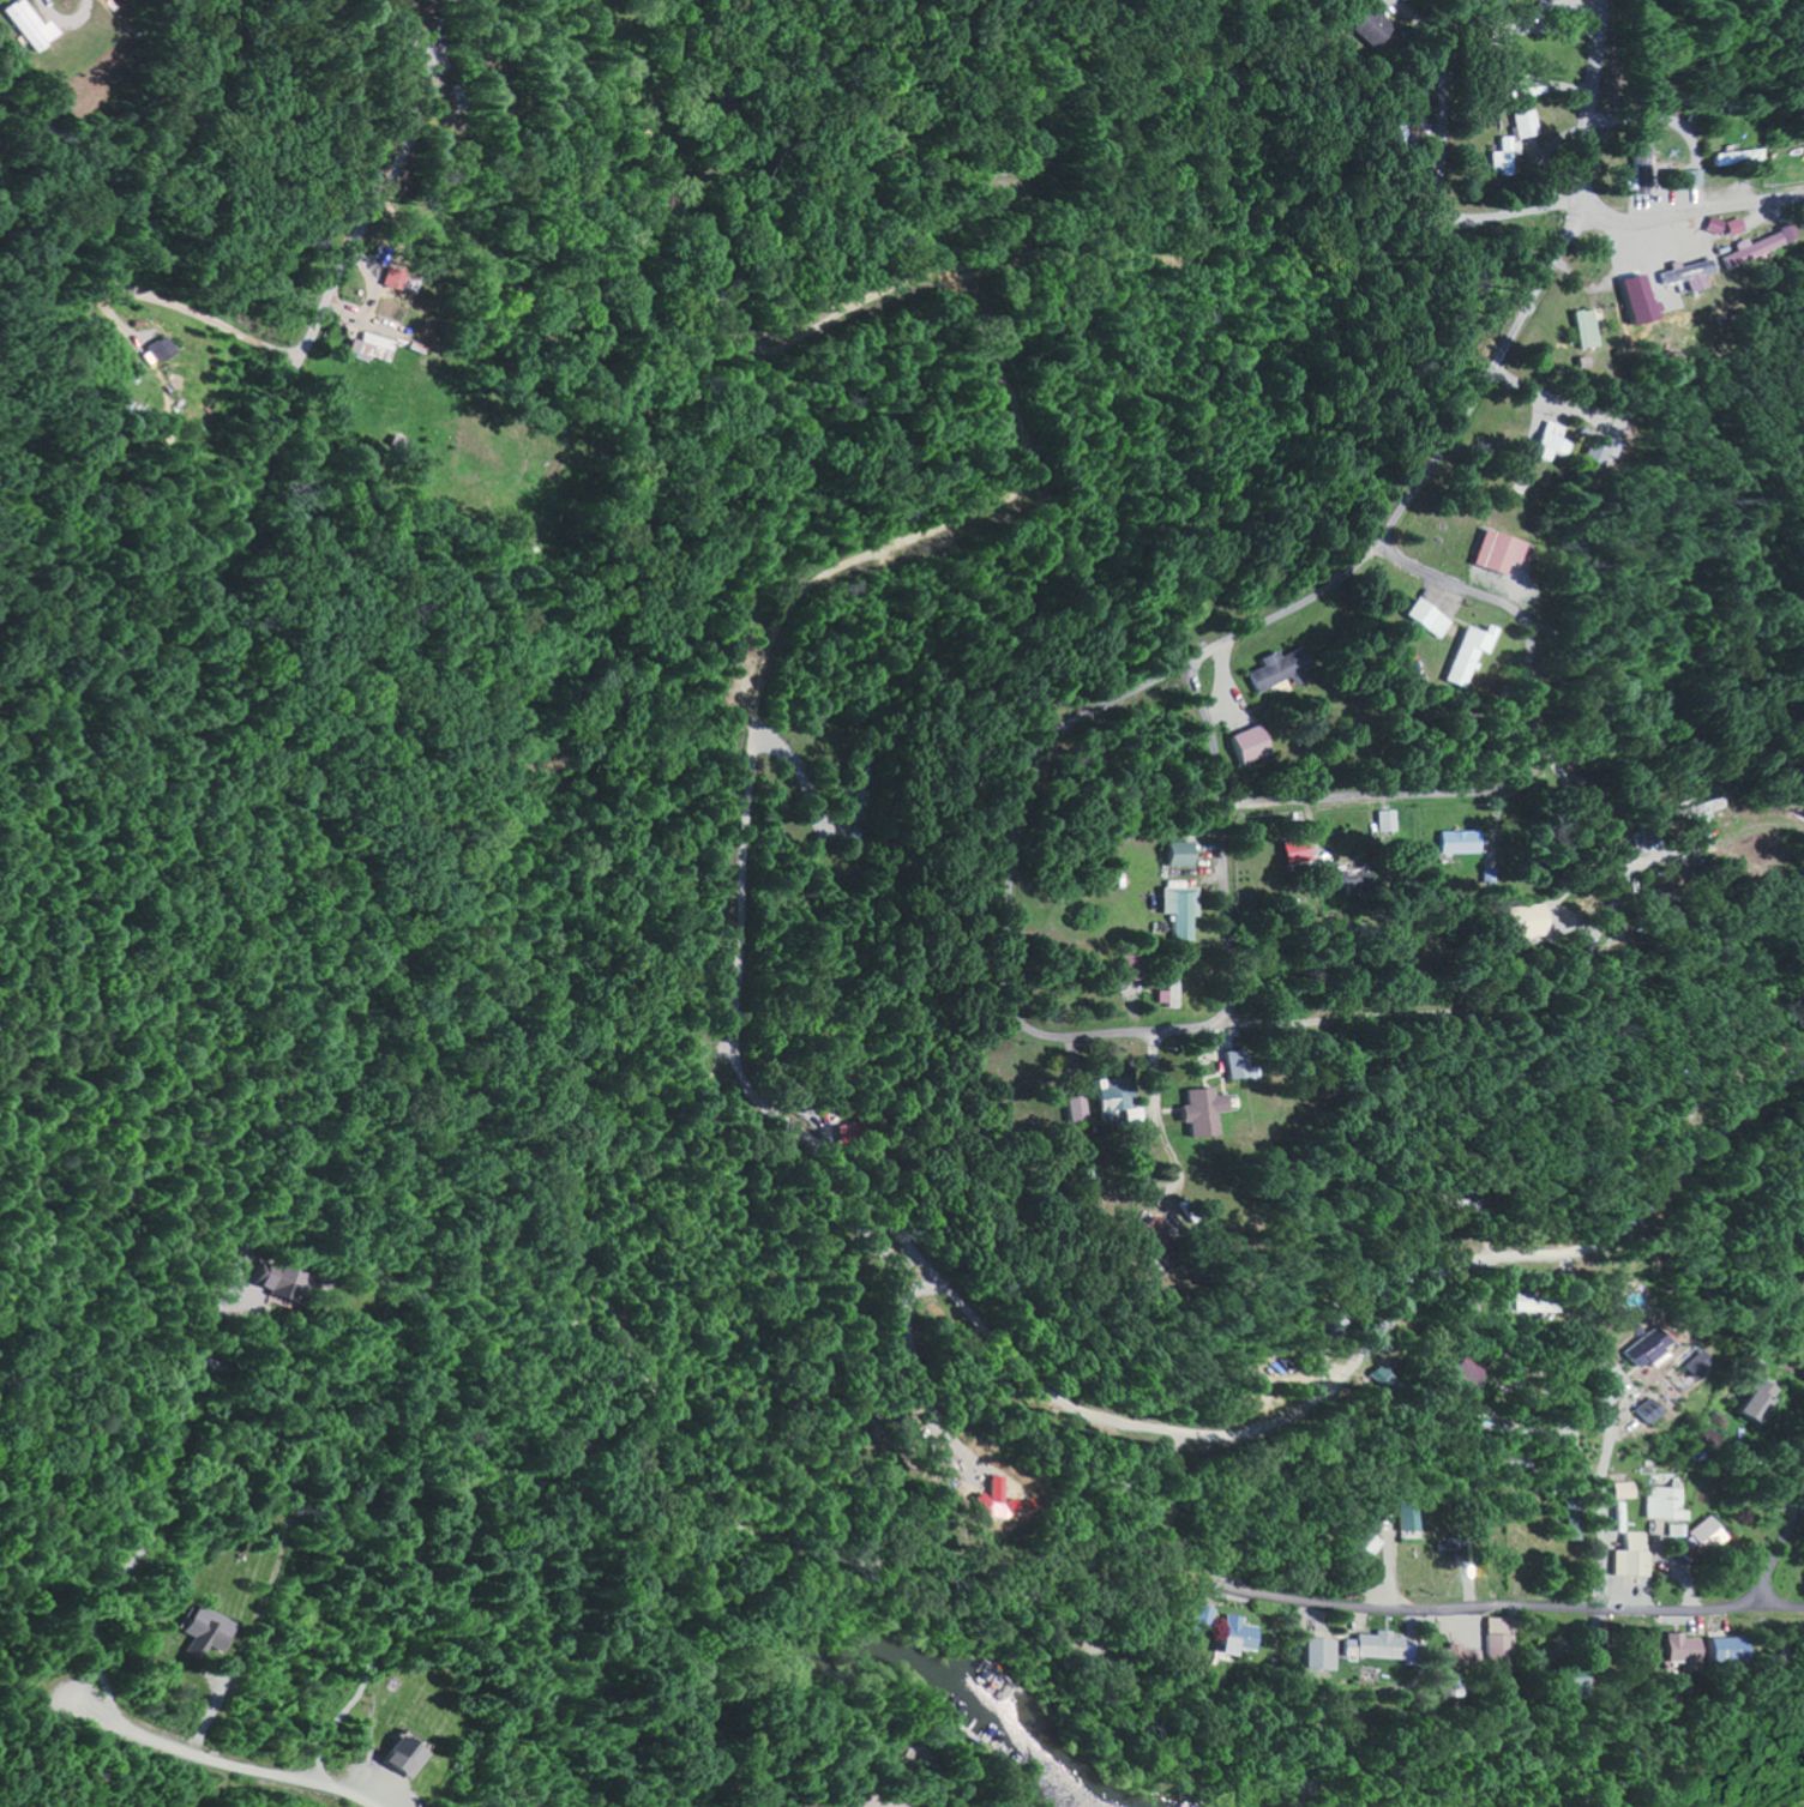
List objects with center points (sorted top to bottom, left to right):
building: (24, 24)
building: (1371, 26)
road: (607, 31)
road: (1448, 121)
building: (1526, 124)
road: (404, 147)
building: (1505, 155)
building: (1641, 155)
building: (1731, 157)
building: (1672, 177)
road: (1599, 209)
building: (1734, 225)
building: (1760, 246)
building: (1688, 273)
building: (402, 281)
road: (1598, 284)
road: (1163, 297)
building: (1635, 299)
building: (1587, 329)
building: (374, 347)
building: (156, 349)
building: (1550, 441)
road: (801, 447)
building: (1599, 450)
road: (950, 501)
building: (1495, 552)
road: (1454, 579)
road: (1276, 613)
building: (1425, 618)
road: (1527, 636)
building: (1466, 653)
building: (1275, 668)
road: (1532, 707)
building: (1249, 743)
road: (1384, 799)
road: (1587, 809)
building: (1695, 817)
road: (1225, 820)
building: (1387, 821)
road: (1713, 839)
building: (1460, 842)
building: (1294, 853)
building: (1178, 854)
road: (1623, 877)
building: (1345, 879)
building: (1179, 909)
building: (1525, 921)
building: (1126, 968)
road: (1455, 975)
building: (1169, 984)
road: (1223, 1012)
road: (1342, 1023)
building: (1232, 1065)
road: (1160, 1068)
building: (1122, 1102)
building: (1081, 1109)
building: (1202, 1110)
road: (1169, 1154)
road: (1149, 1158)
road: (952, 1192)
building: (1157, 1229)
road: (1430, 1272)
building: (282, 1282)
building: (1540, 1303)
building: (1647, 1349)
building: (1695, 1365)
building: (1466, 1374)
building: (1754, 1398)
building: (1652, 1411)
building: (1710, 1438)
building: (1626, 1490)
building: (997, 1492)
building: (1012, 1505)
building: (1668, 1510)
building: (1407, 1516)
building: (1576, 1520)
building: (1707, 1538)
building: (1365, 1542)
road: (1780, 1554)
building: (1635, 1556)
road: (1779, 1601)
road: (1479, 1602)
building: (1201, 1621)
building: (198, 1632)
building: (1237, 1636)
building: (1375, 1646)
building: (1498, 1646)
building: (1725, 1650)
building: (1683, 1651)
building: (1321, 1655)
building: (1456, 1658)
building: (1564, 1689)
road: (229, 1758)
building: (395, 1759)

